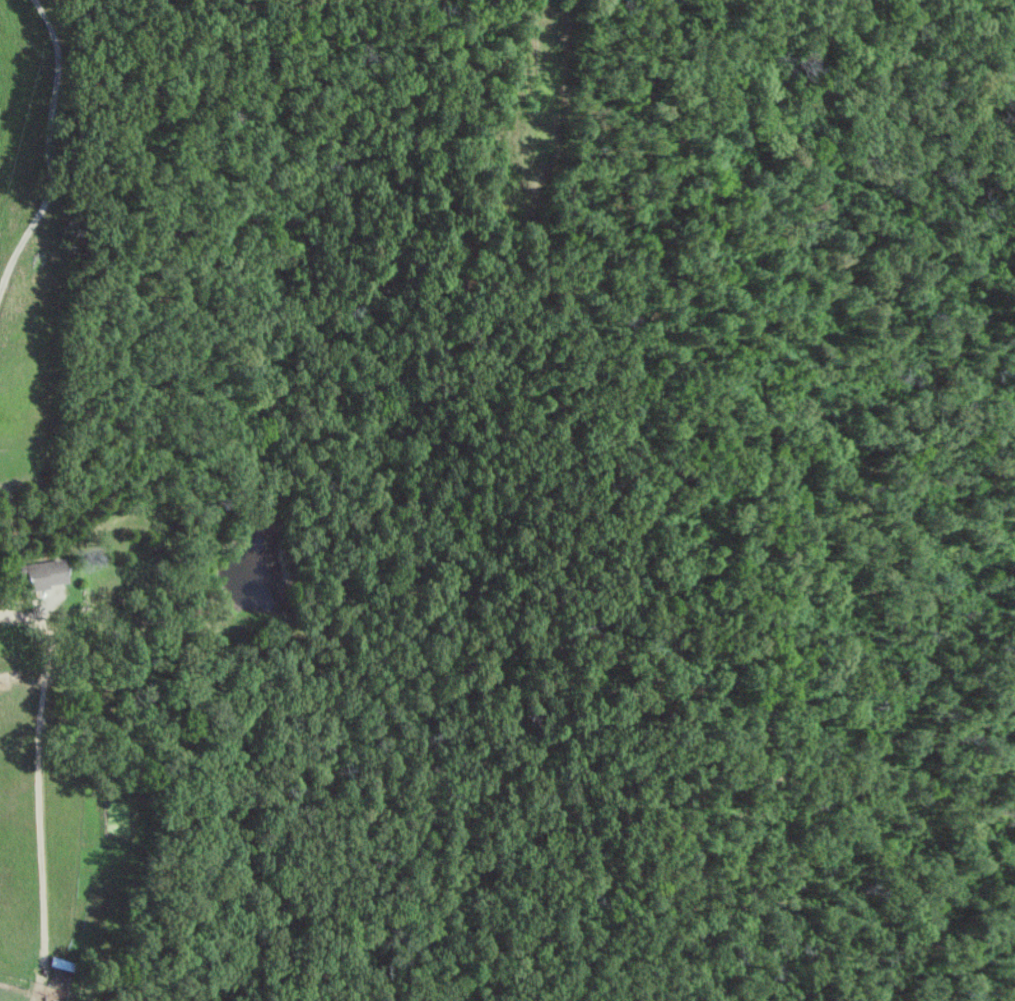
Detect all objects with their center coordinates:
road: (48, 144)
building: (41, 575)

